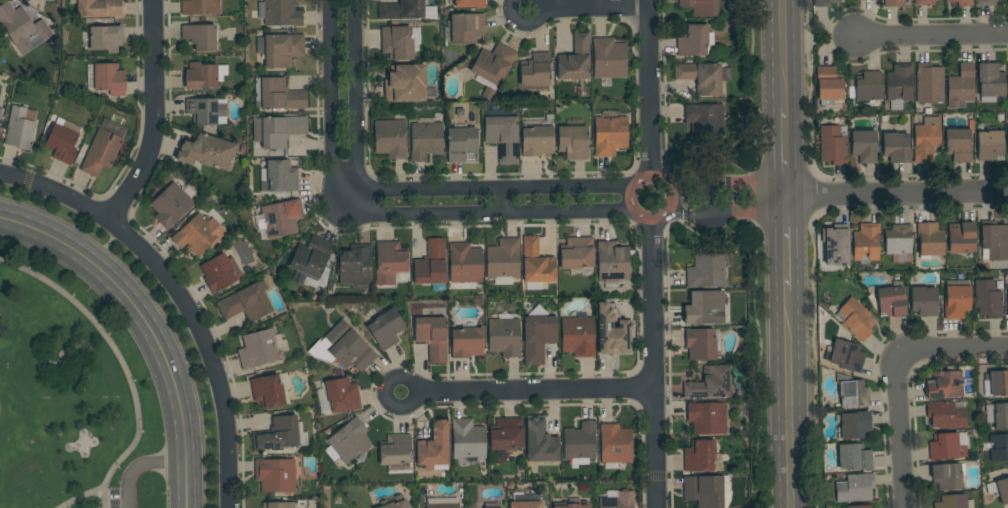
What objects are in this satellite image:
building: (43, 0)
building: (1007, 1)
building: (924, 2)
building: (961, 2)
building: (985, 2)
building: (469, 3)
building: (825, 3)
building: (894, 3)
building: (200, 7)
building: (702, 7)
building: (99, 8)
road: (593, 8)
building: (406, 10)
building: (282, 13)
road: (525, 25)
building: (22, 28)
building: (466, 28)
road: (931, 35)
building: (200, 37)
building: (106, 38)
building: (692, 41)
building: (397, 42)
building: (283, 49)
road: (784, 54)
building: (610, 58)
building: (576, 59)
building: (492, 68)
building: (535, 70)
building: (204, 76)
building: (1007, 76)
building: (703, 77)
building: (109, 79)
building: (991, 81)
building: (406, 83)
building: (929, 84)
building: (828, 85)
building: (899, 85)
building: (865, 86)
building: (961, 86)
road: (648, 89)
building: (278, 94)
road: (331, 108)
road: (357, 108)
building: (0, 111)
building: (202, 111)
road: (153, 117)
building: (705, 120)
building: (19, 129)
building: (277, 130)
building: (1007, 132)
building: (610, 136)
building: (390, 138)
building: (502, 138)
building: (426, 139)
building: (927, 139)
building: (63, 141)
building: (537, 141)
building: (573, 141)
building: (461, 143)
building: (833, 144)
building: (896, 145)
building: (958, 145)
building: (990, 145)
building: (864, 146)
building: (207, 152)
building: (101, 153)
road: (785, 153)
building: (279, 176)
road: (483, 189)
road: (897, 194)
road: (736, 199)
road: (680, 201)
building: (171, 205)
road: (634, 211)
road: (484, 214)
building: (282, 218)
building: (197, 234)
building: (961, 237)
building: (898, 239)
building: (930, 240)
building: (994, 242)
road: (786, 243)
building: (834, 243)
building: (866, 243)
building: (577, 253)
building: (503, 259)
building: (312, 261)
building: (537, 262)
building: (612, 262)
building: (431, 263)
building: (465, 263)
building: (391, 264)
building: (355, 265)
building: (707, 271)
building: (217, 273)
road: (178, 296)
building: (988, 299)
building: (1007, 299)
building: (892, 300)
building: (924, 301)
building: (956, 301)
building: (246, 302)
building: (704, 308)
building: (856, 318)
road: (146, 327)
building: (386, 328)
building: (432, 332)
building: (613, 333)
building: (504, 336)
building: (578, 336)
building: (538, 337)
building: (467, 342)
building: (700, 344)
building: (343, 348)
building: (259, 349)
building: (846, 355)
road: (953, 359)
road: (119, 361)
road: (652, 364)
building: (999, 382)
building: (711, 384)
building: (944, 385)
building: (268, 391)
road: (532, 391)
road: (412, 393)
building: (853, 393)
building: (342, 395)
park: (71, 396)
road: (788, 399)
building: (947, 414)
building: (997, 415)
building: (707, 417)
building: (855, 425)
building: (278, 434)
building: (506, 434)
road: (902, 436)
building: (468, 439)
building: (348, 441)
building: (580, 441)
building: (539, 442)
building: (615, 444)
building: (434, 446)
building: (946, 446)
building: (998, 447)
building: (395, 450)
building: (699, 456)
building: (854, 457)
road: (138, 468)
building: (275, 474)
building: (948, 476)
building: (853, 487)
building: (999, 489)
building: (706, 490)
road: (92, 493)
parking lot: (121, 498)
building: (952, 501)
building: (394, 502)
building: (614, 502)
building: (525, 504)
building: (274, 505)
building: (443, 505)
building: (492, 505)
building: (571, 505)
building: (860, 506)

